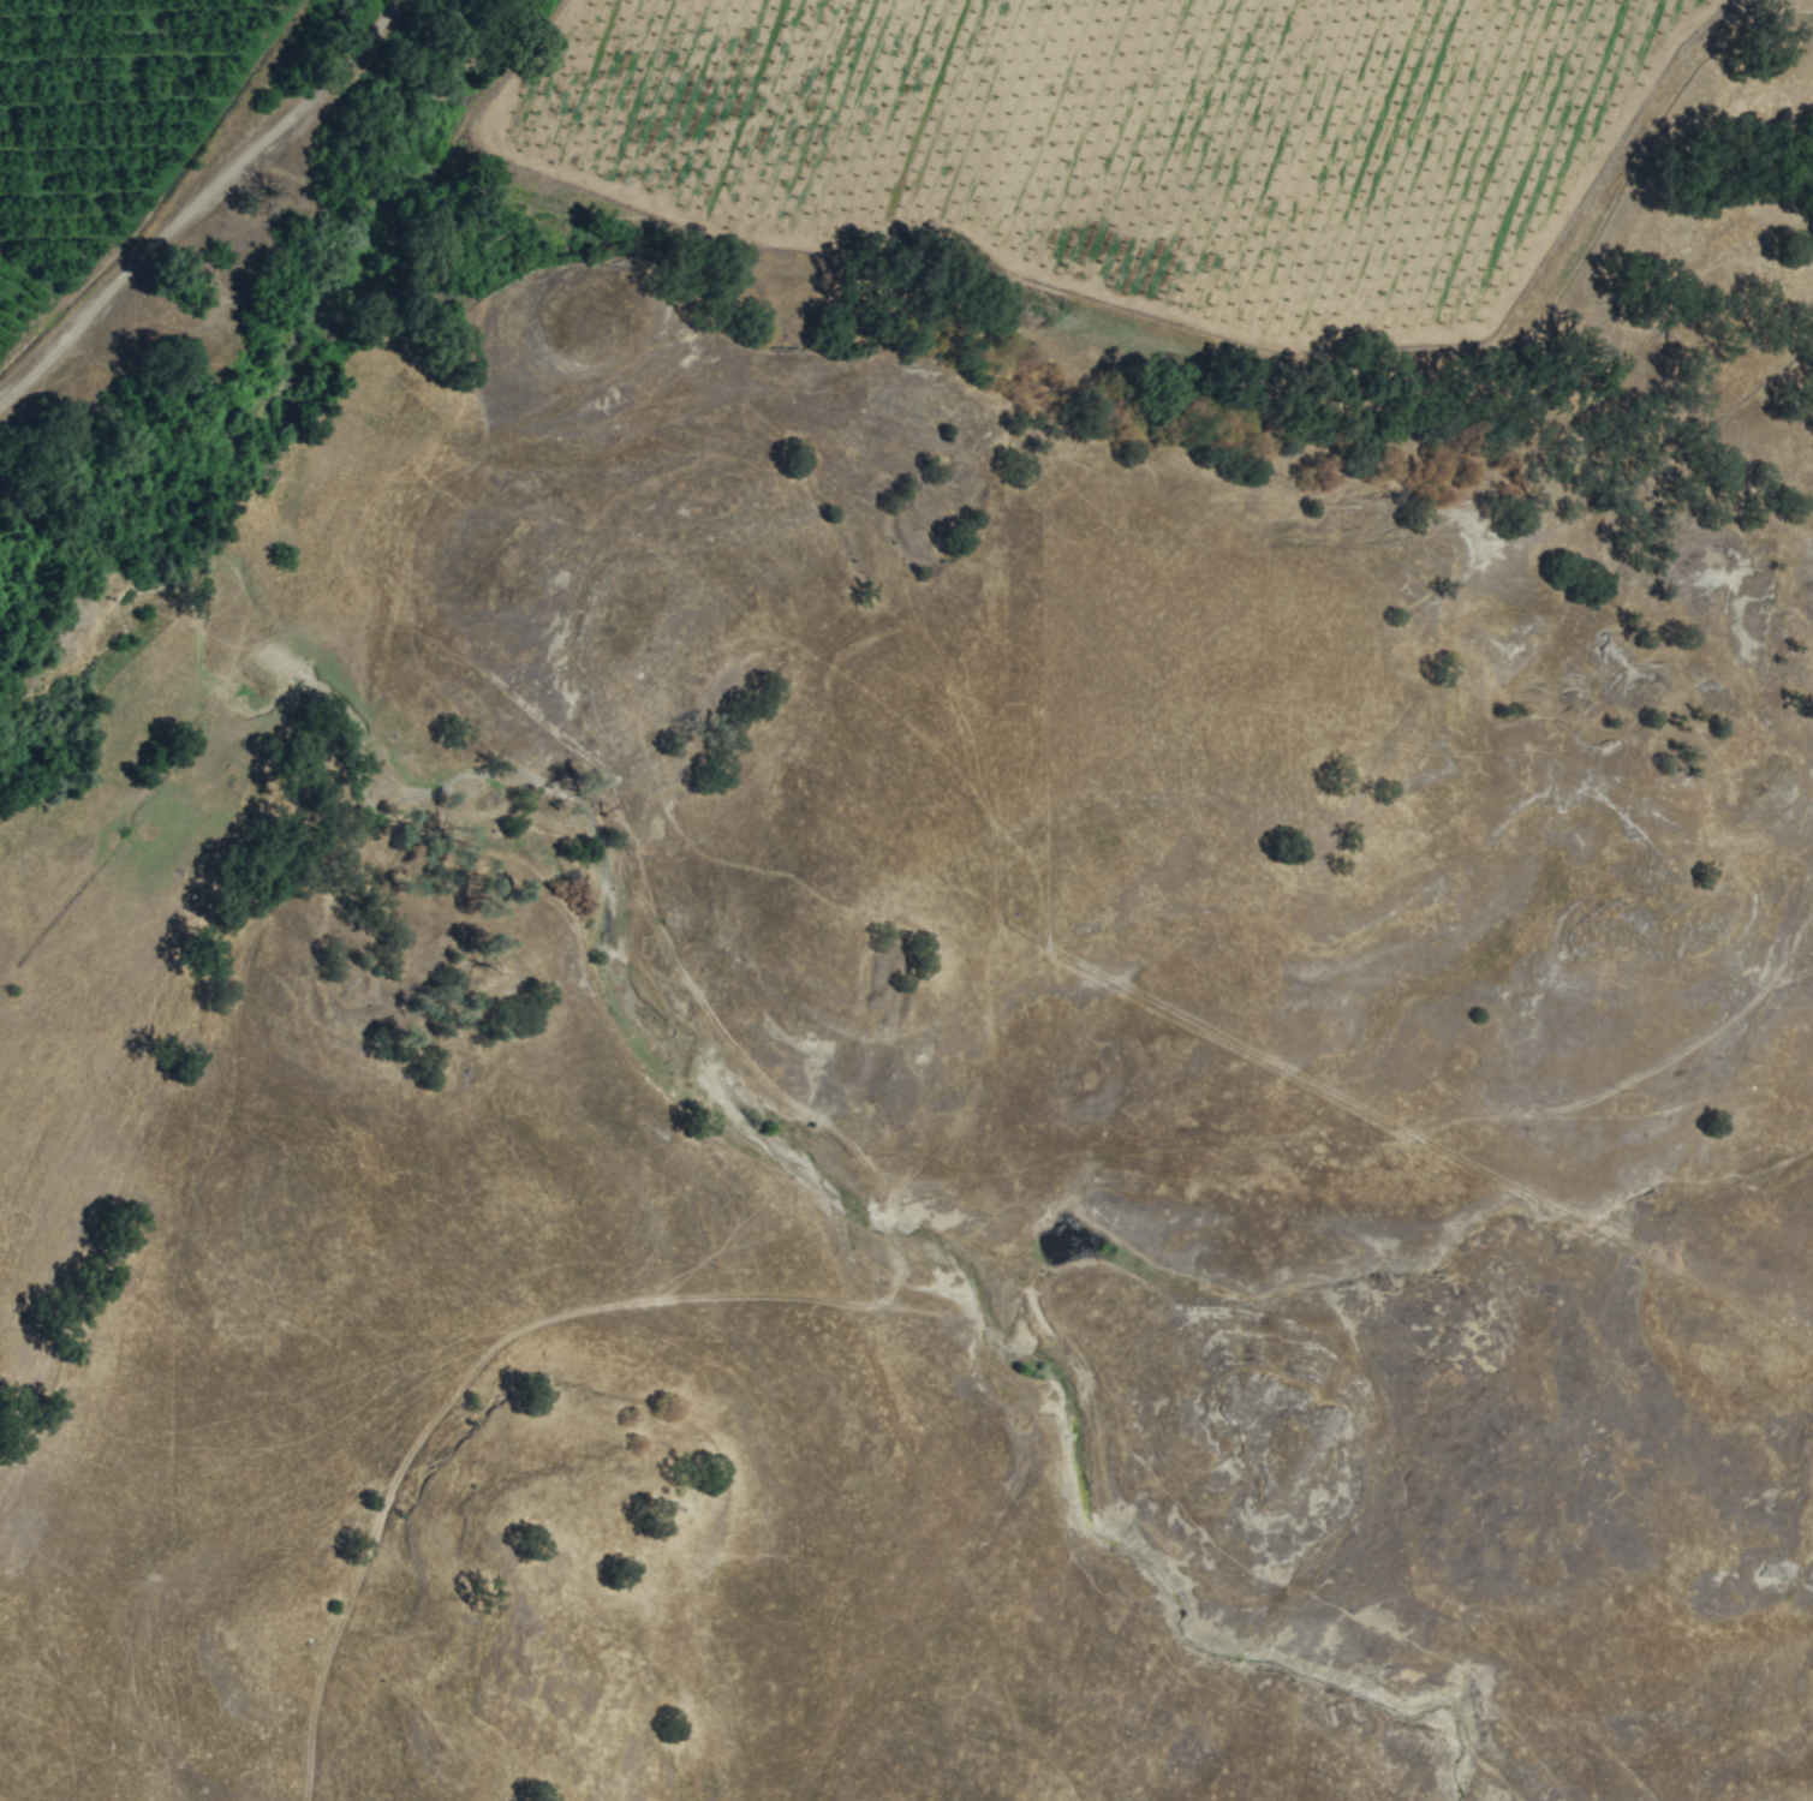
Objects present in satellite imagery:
crop: (942, 133)

